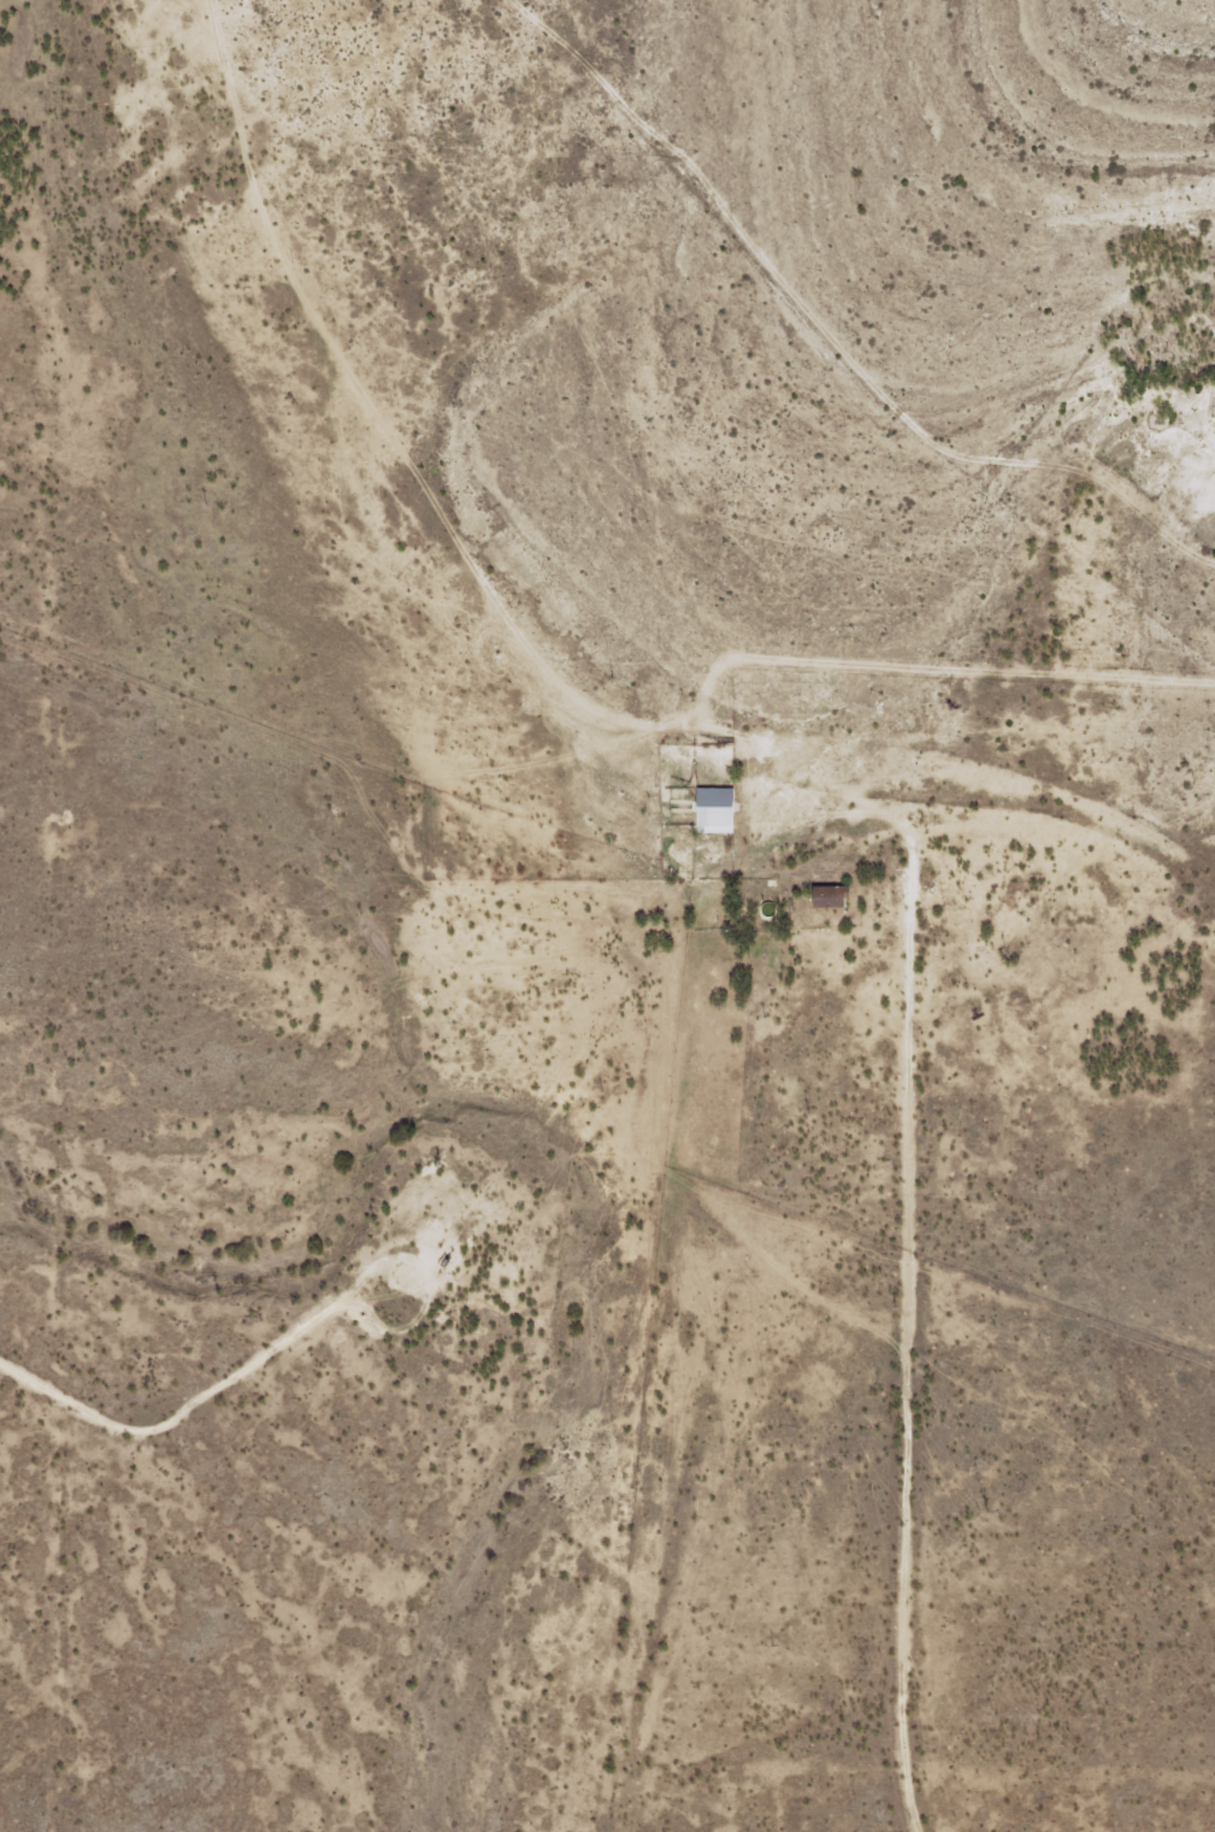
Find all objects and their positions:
road: (1180, 419)
road: (828, 820)

